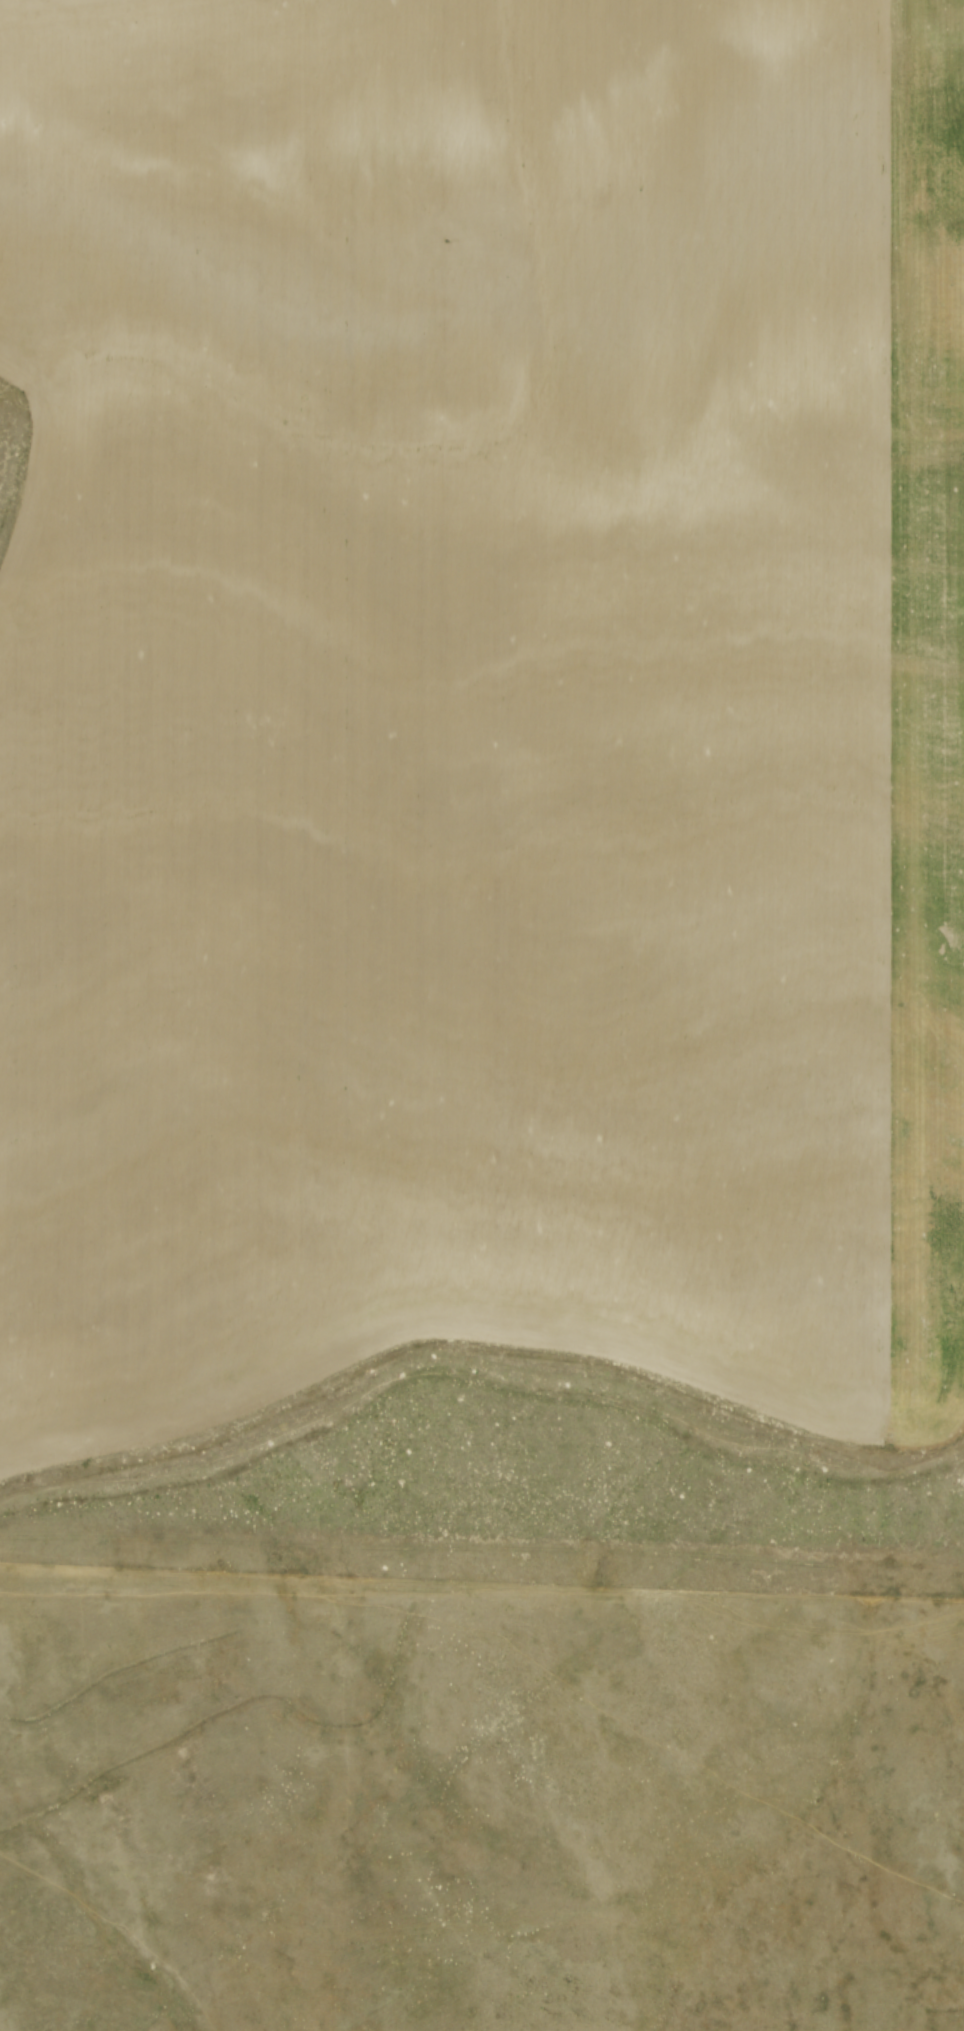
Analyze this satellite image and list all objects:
crop: (482, 703)

